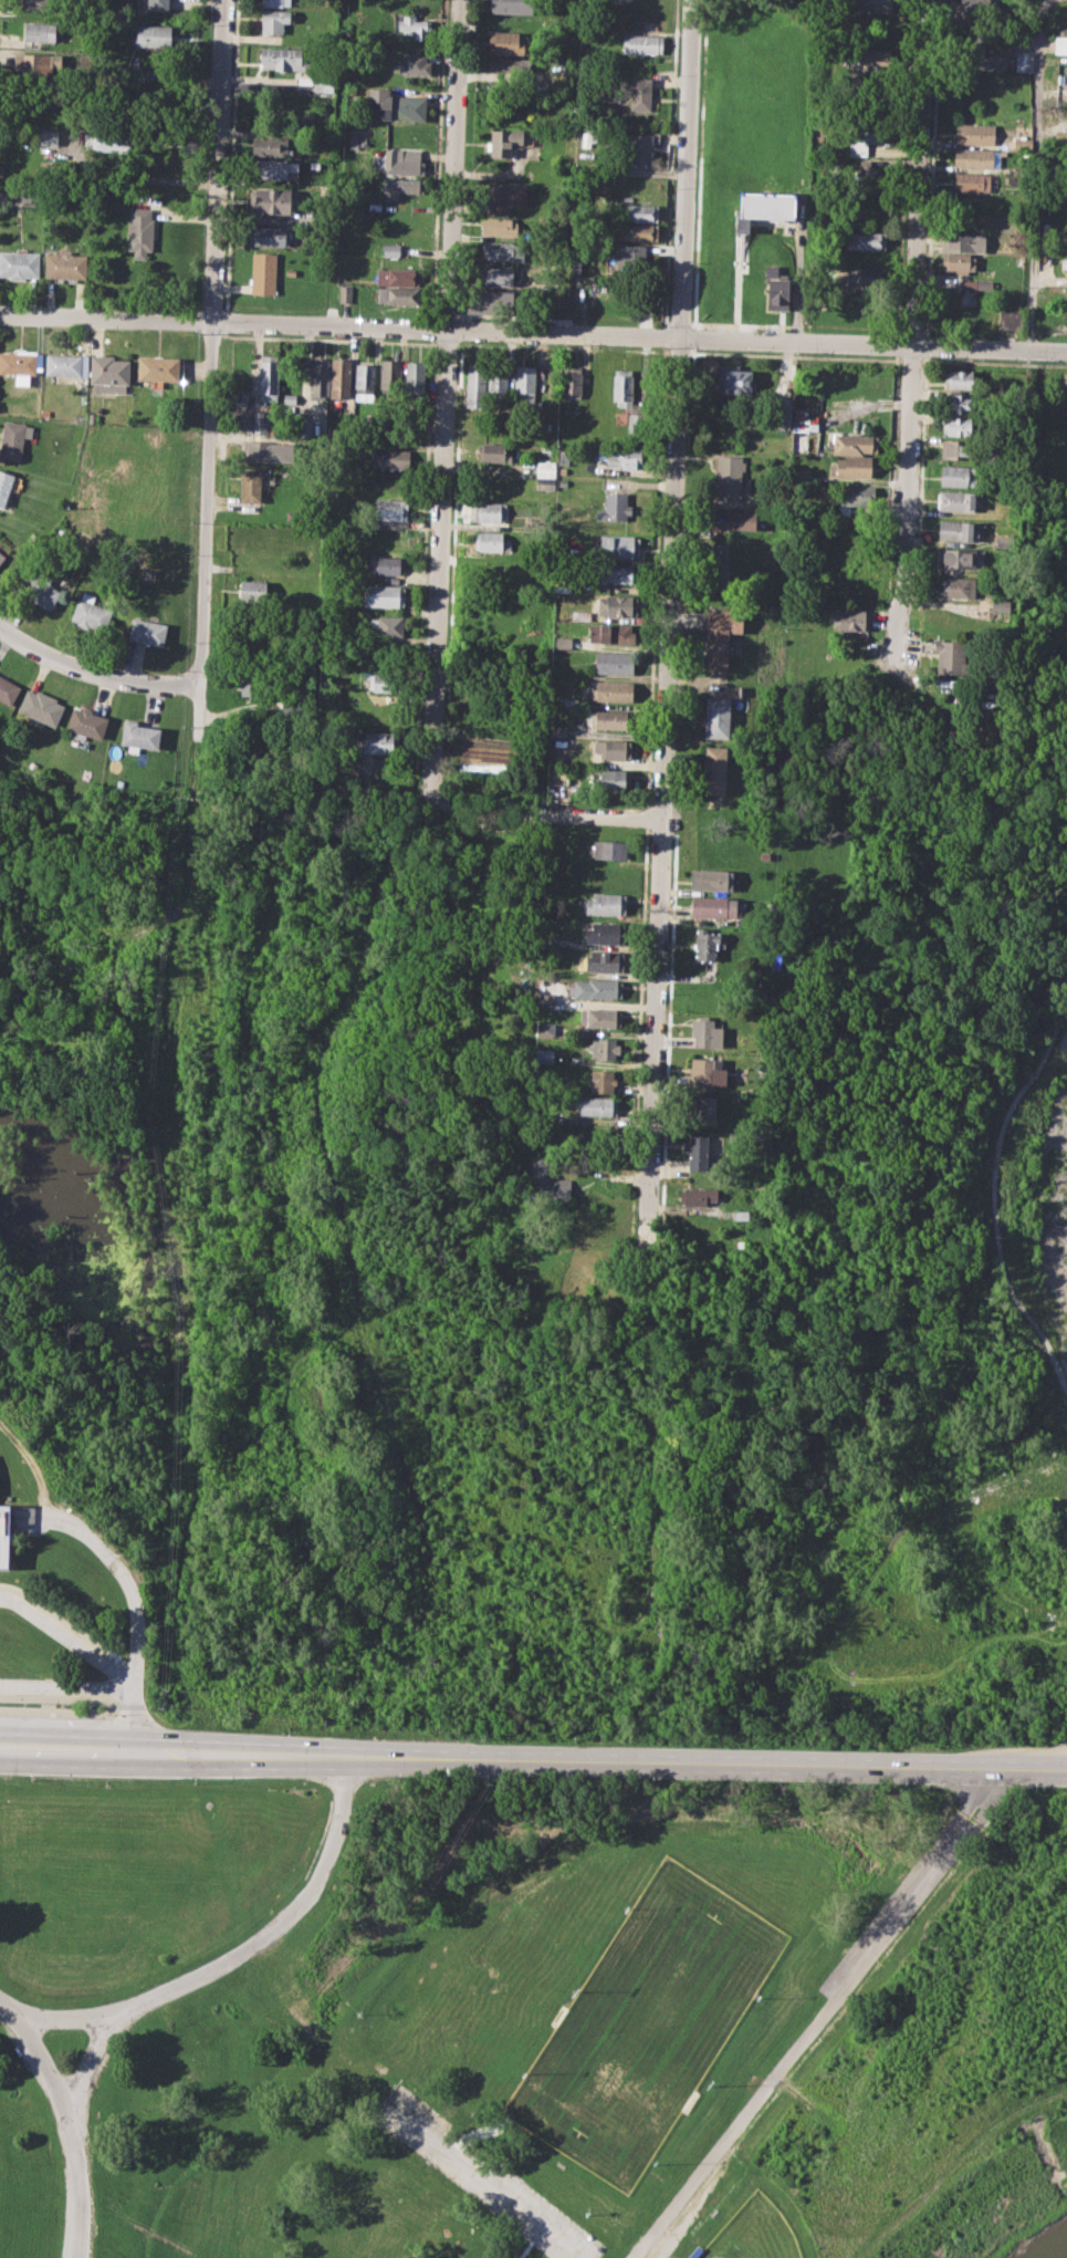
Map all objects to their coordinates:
building: (593, 1)
building: (275, 2)
building: (34, 3)
building: (156, 4)
building: (511, 6)
building: (871, 6)
building: (977, 6)
building: (275, 20)
building: (414, 25)
building: (39, 32)
building: (153, 35)
building: (508, 43)
building: (974, 43)
building: (1060, 43)
building: (641, 44)
building: (872, 56)
building: (282, 59)
building: (36, 61)
building: (562, 61)
building: (409, 63)
building: (1024, 63)
building: (509, 66)
building: (323, 82)
building: (557, 86)
building: (640, 93)
building: (393, 105)
building: (974, 133)
building: (48, 135)
building: (864, 137)
building: (588, 138)
building: (109, 141)
building: (354, 141)
building: (509, 142)
building: (1022, 143)
building: (271, 145)
building: (638, 148)
building: (974, 157)
building: (396, 164)
building: (271, 167)
road: (1034, 174)
building: (974, 181)
building: (401, 186)
building: (28, 196)
building: (504, 196)
building: (273, 200)
building: (764, 208)
building: (636, 212)
building: (500, 226)
building: (634, 232)
building: (139, 233)
building: (268, 235)
building: (865, 239)
building: (964, 241)
building: (389, 249)
building: (503, 251)
building: (628, 258)
building: (958, 261)
building: (1065, 261)
building: (19, 263)
building: (65, 264)
road: (799, 268)
building: (291, 271)
building: (262, 272)
building: (397, 275)
building: (494, 277)
building: (866, 277)
building: (983, 284)
building: (345, 292)
building: (777, 292)
building: (396, 294)
building: (965, 298)
building: (490, 301)
building: (1010, 320)
road: (533, 332)
road: (912, 332)
building: (19, 364)
building: (65, 365)
building: (157, 367)
building: (108, 373)
building: (390, 374)
building: (415, 375)
building: (318, 376)
building: (341, 376)
building: (269, 378)
building: (958, 378)
building: (732, 379)
building: (364, 381)
building: (496, 381)
building: (571, 383)
building: (475, 385)
building: (524, 386)
building: (623, 386)
road: (446, 396)
building: (290, 397)
building: (1066, 398)
building: (958, 403)
building: (783, 412)
building: (239, 418)
building: (636, 422)
building: (259, 423)
building: (304, 426)
building: (958, 426)
building: (11, 439)
building: (852, 444)
building: (958, 449)
building: (268, 450)
building: (493, 451)
building: (624, 457)
building: (389, 459)
building: (852, 467)
building: (544, 469)
building: (801, 475)
building: (728, 476)
building: (959, 476)
road: (206, 480)
building: (6, 485)
building: (250, 486)
building: (850, 493)
building: (956, 500)
building: (614, 508)
building: (389, 510)
building: (489, 511)
building: (731, 520)
building: (387, 523)
building: (958, 530)
building: (1003, 540)
building: (491, 541)
building: (618, 545)
building: (2, 556)
building: (958, 558)
building: (386, 564)
building: (719, 564)
road: (669, 570)
building: (149, 573)
building: (619, 573)
building: (562, 584)
building: (41, 586)
building: (954, 586)
building: (253, 587)
building: (383, 596)
building: (617, 605)
building: (1000, 605)
building: (90, 615)
building: (579, 616)
building: (850, 618)
building: (387, 626)
building: (146, 631)
building: (611, 634)
building: (720, 635)
building: (563, 642)
building: (951, 655)
building: (614, 662)
road: (94, 672)
building: (385, 683)
building: (254, 684)
building: (8, 689)
building: (611, 690)
building: (571, 701)
building: (41, 707)
building: (715, 716)
building: (610, 719)
building: (86, 722)
building: (557, 730)
building: (138, 735)
building: (380, 742)
building: (613, 749)
building: (714, 769)
building: (558, 776)
building: (610, 780)
road: (542, 818)
building: (609, 850)
building: (712, 880)
building: (605, 903)
building: (713, 907)
building: (606, 933)
building: (551, 940)
building: (705, 941)
building: (604, 960)
building: (596, 989)
building: (545, 999)
building: (599, 1018)
building: (704, 1033)
building: (599, 1049)
building: (542, 1054)
building: (705, 1072)
building: (603, 1080)
building: (597, 1106)
building: (702, 1109)
building: (698, 1152)
building: (544, 1182)
building: (699, 1195)
building: (740, 1214)
road: (4, 1351)
building: (4, 1538)
road: (133, 1596)
road: (69, 1623)
road: (69, 1635)
road: (69, 1685)
road: (62, 1696)
road: (48, 1703)
road: (56, 1710)
street lamp: (105, 1715)
street lamp: (287, 1728)
road: (533, 1759)
street lamp: (396, 1778)
street lamp: (31, 1779)
street lamp: (524, 1780)
street lamp: (650, 1781)
street lamp: (193, 1782)
street lamp: (777, 1783)
street lamp: (903, 1786)
street lamp: (1033, 1789)
road: (170, 1986)
road: (69, 2017)
road: (820, 2017)
park: (530, 2018)
park: (646, 2022)
road: (35, 2054)
parking lot: (483, 2176)
road: (485, 2177)
park: (754, 2233)

